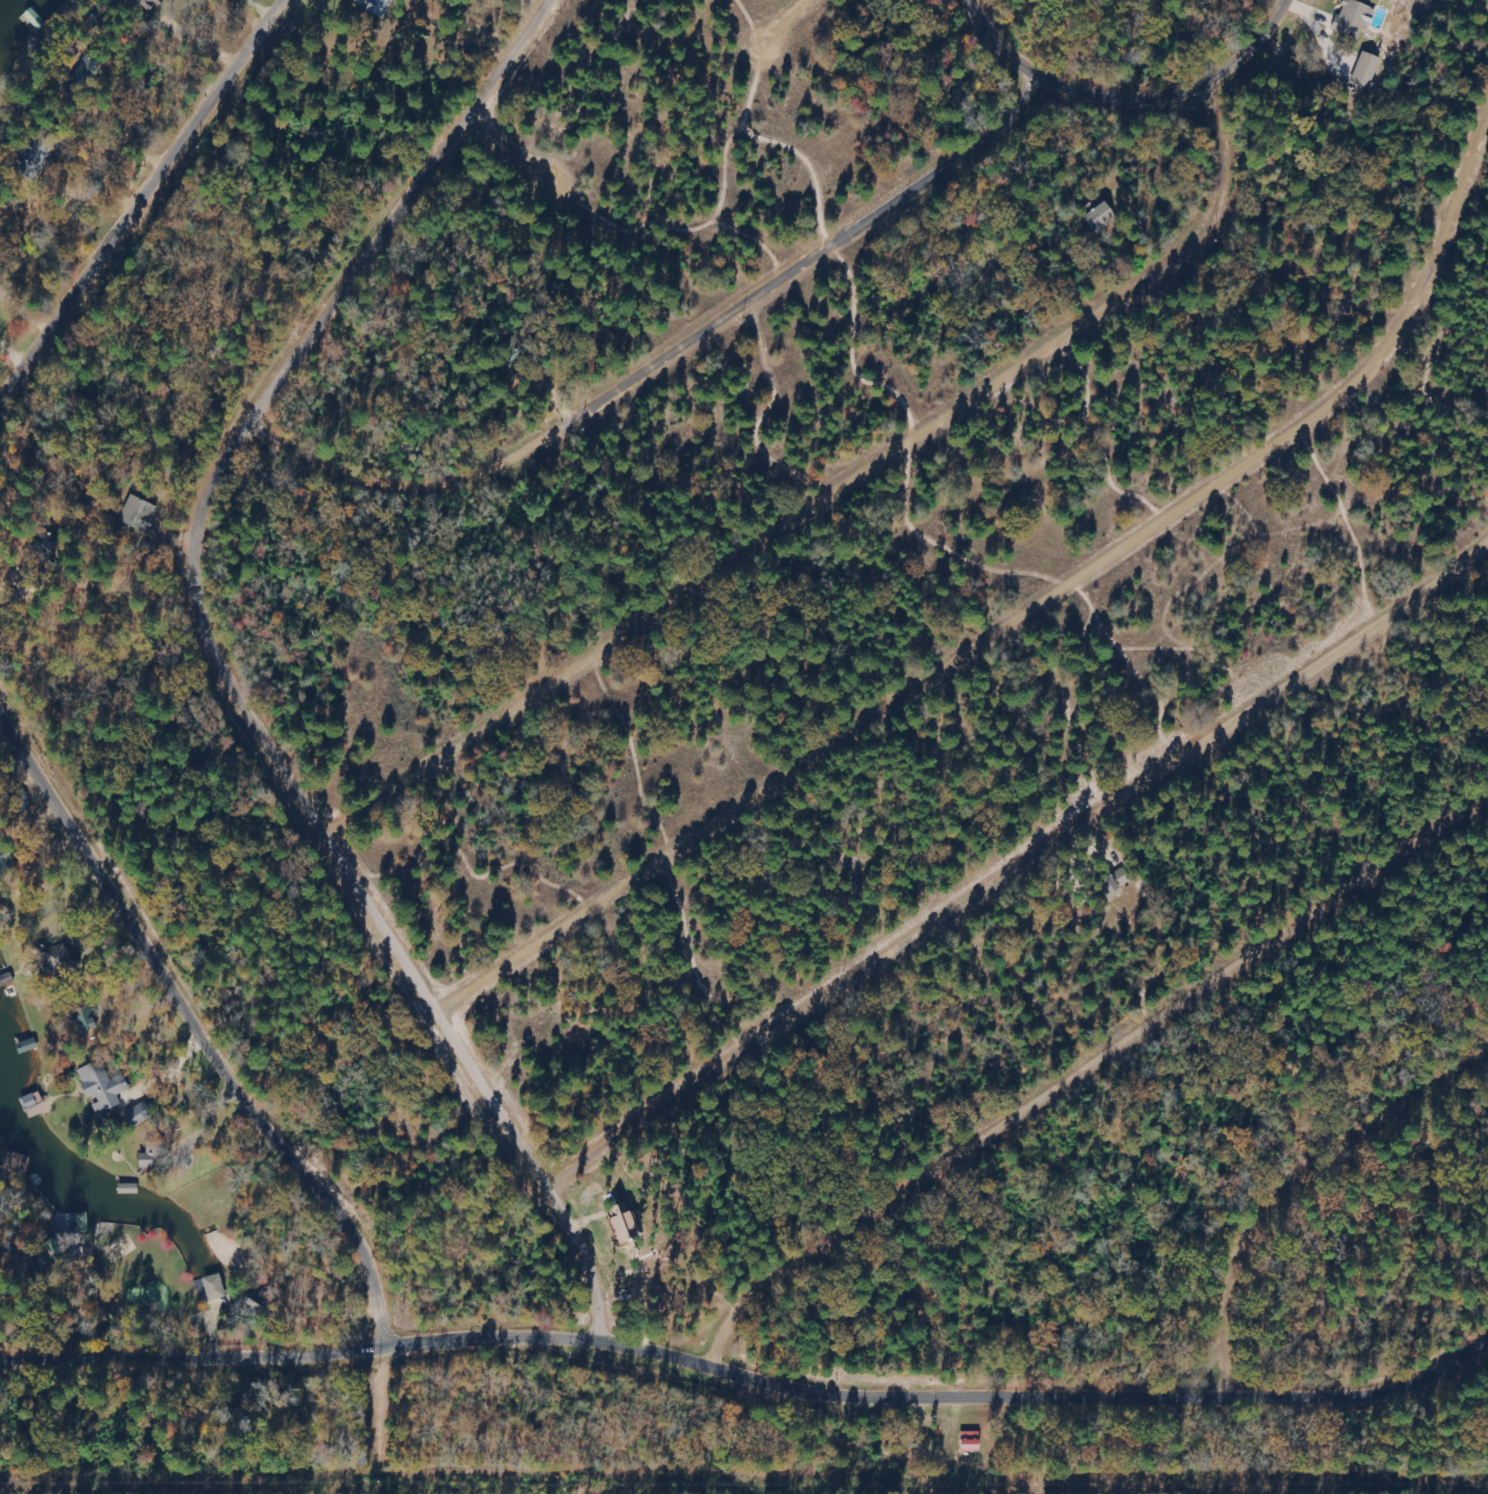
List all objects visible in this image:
building: (152, 5)
building: (381, 8)
road: (835, 18)
building: (1355, 19)
building: (1368, 70)
building: (88, 72)
road: (785, 80)
road: (1155, 98)
road: (548, 139)
road: (612, 208)
road: (140, 217)
building: (1102, 217)
road: (692, 373)
road: (846, 502)
building: (141, 514)
road: (1001, 648)
road: (228, 669)
building: (6, 858)
road: (1030, 881)
building: (1118, 881)
building: (87, 1020)
road: (193, 1024)
road: (1091, 1085)
building: (104, 1087)
building: (141, 1114)
building: (156, 1155)
road: (1295, 1175)
building: (627, 1226)
building: (216, 1288)
road: (748, 1380)
building: (973, 1442)
road: (1226, 1443)

